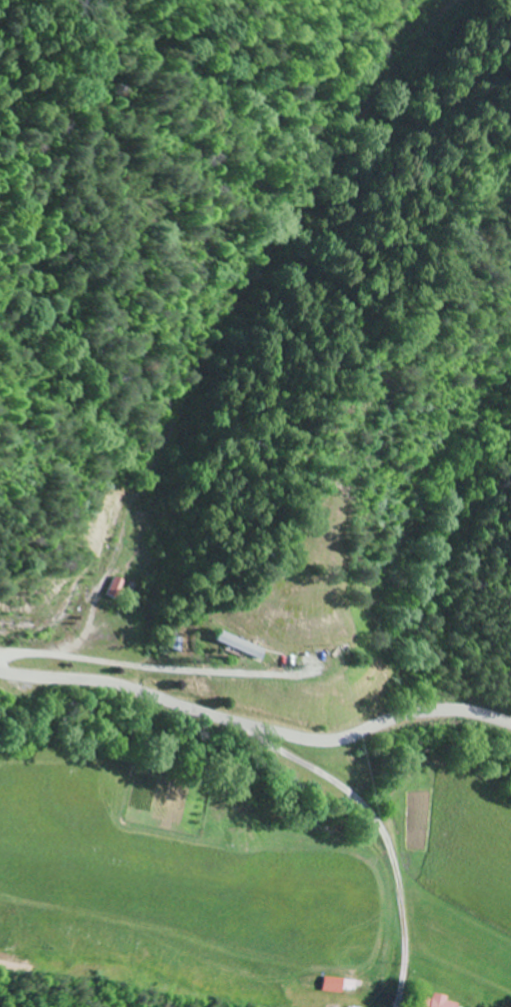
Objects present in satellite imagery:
building: (236, 645)
road: (255, 727)
road: (433, 731)
road: (364, 770)
road: (378, 896)
building: (335, 985)
road: (381, 994)
building: (437, 1001)

